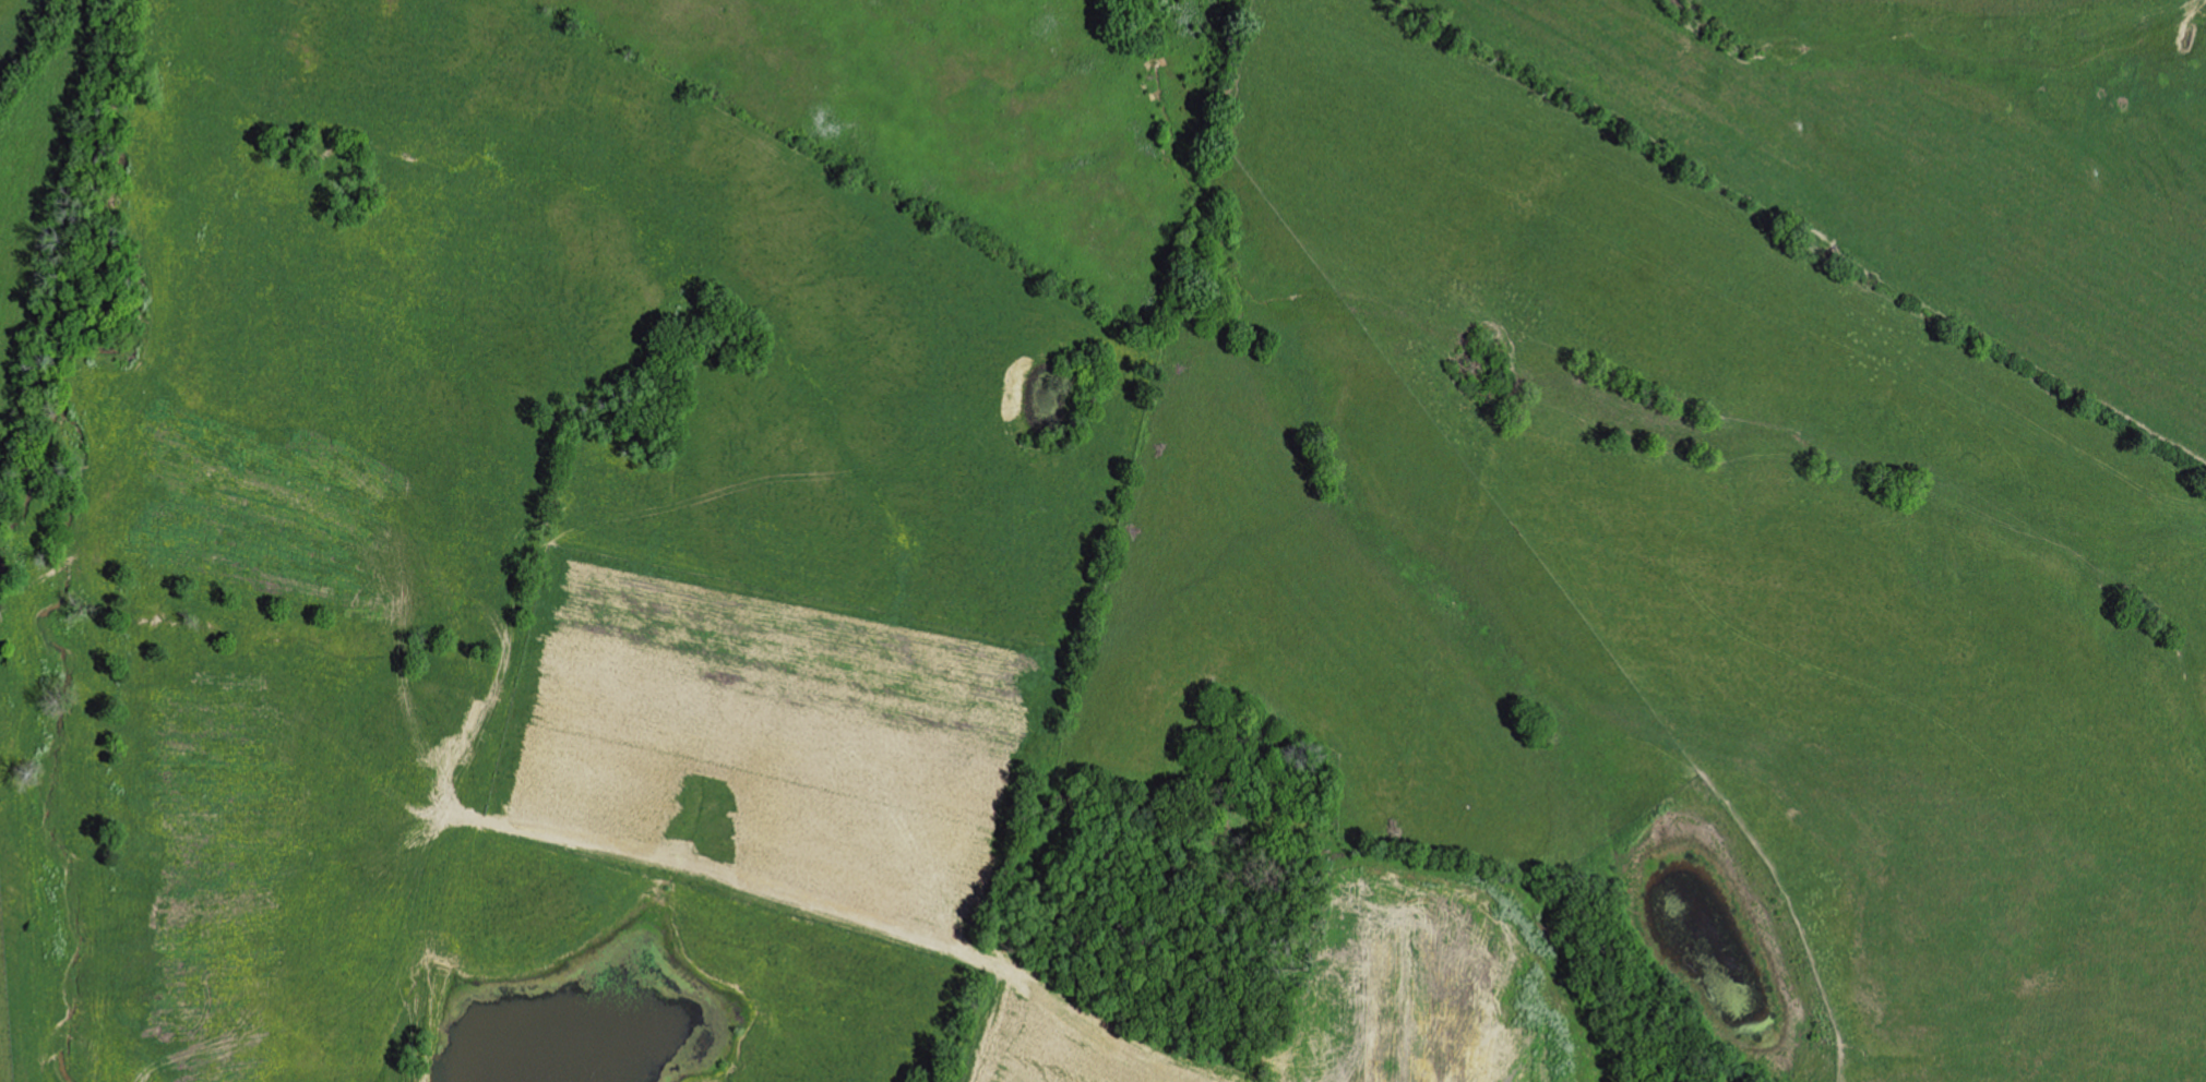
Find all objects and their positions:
road: (1975, 689)

